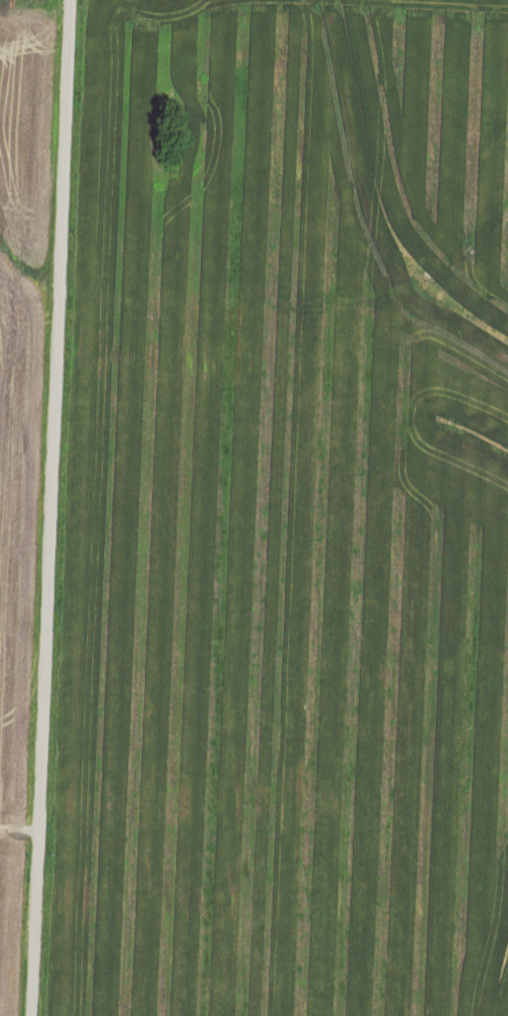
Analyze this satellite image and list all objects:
road: (48, 507)

